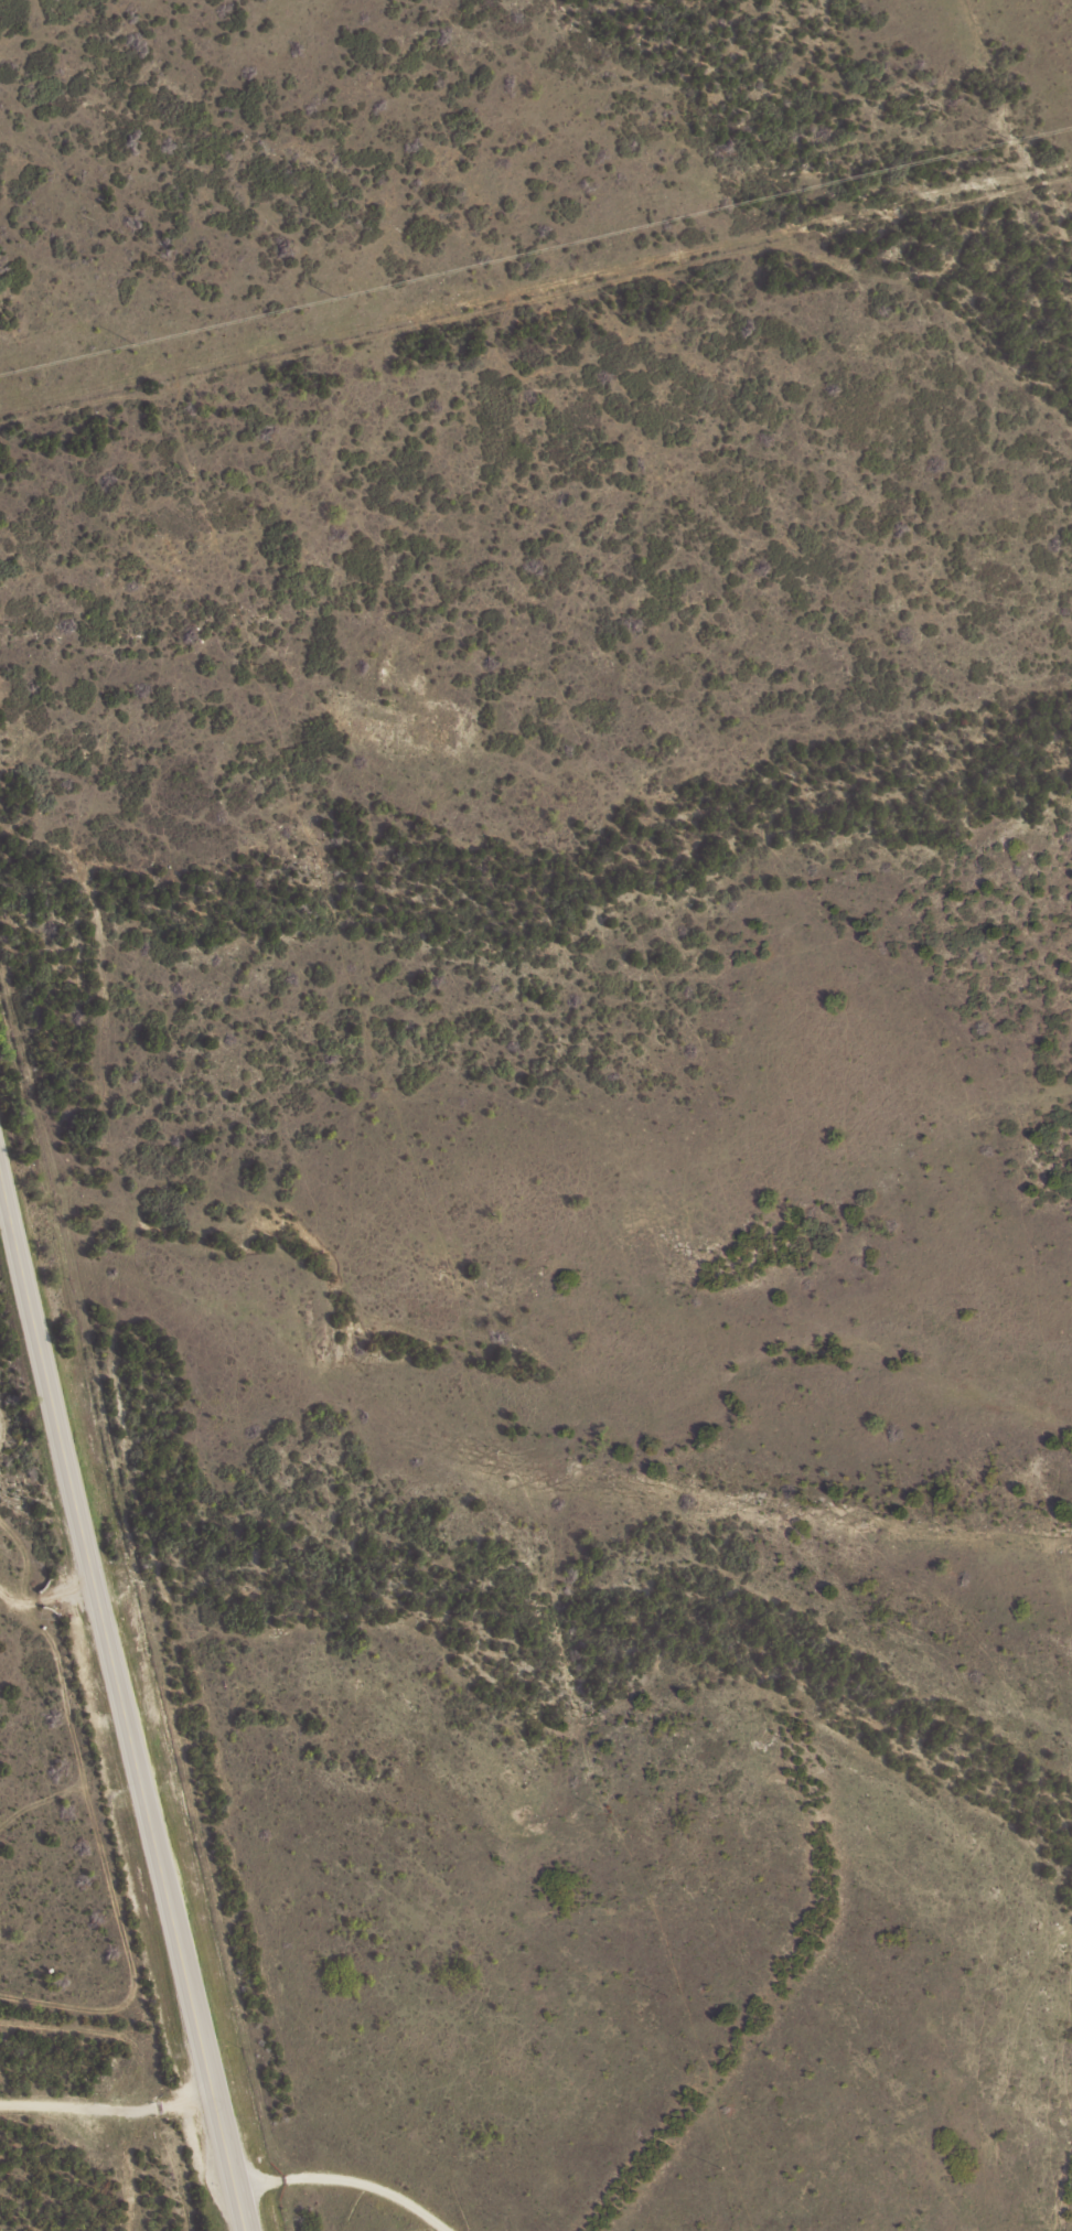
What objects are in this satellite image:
road: (119, 1712)
road: (104, 2113)
road: (73, 2177)
road: (344, 2180)

